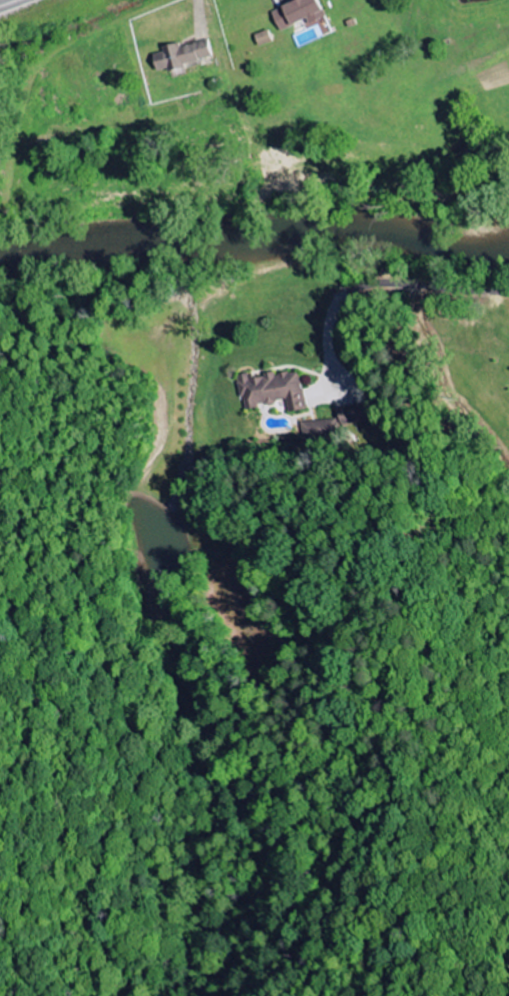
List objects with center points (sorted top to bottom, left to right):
building: (302, 15)
building: (264, 37)
building: (182, 54)
river: (256, 233)
road: (416, 274)
building: (272, 390)
building: (353, 413)
building: (316, 428)

